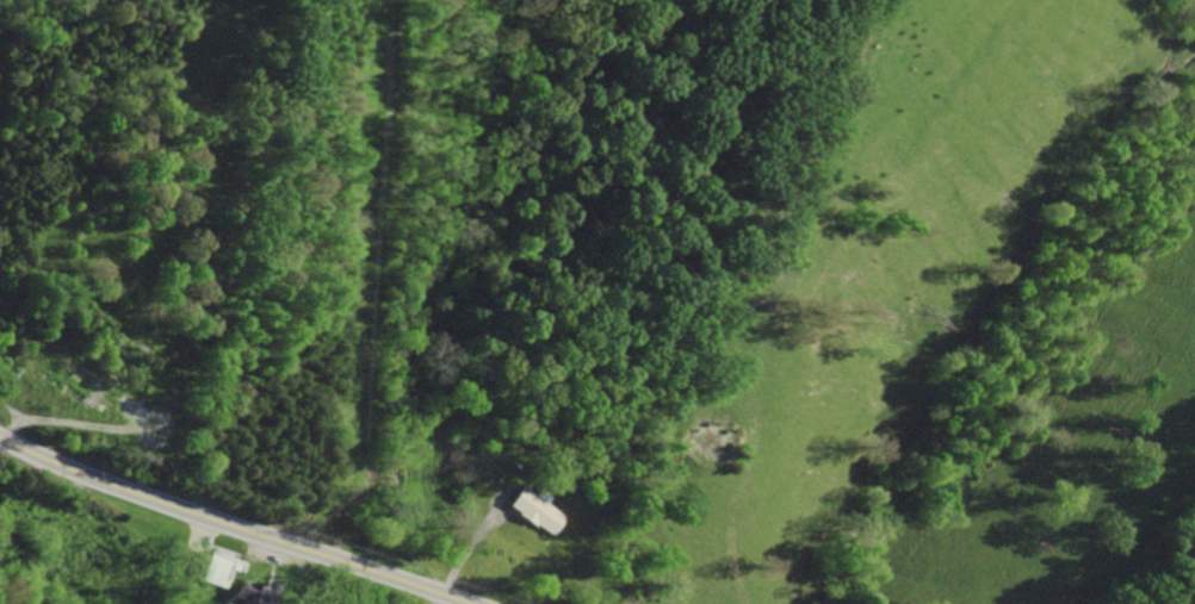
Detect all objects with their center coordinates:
building: (534, 511)
road: (234, 525)
building: (213, 569)
building: (246, 593)

